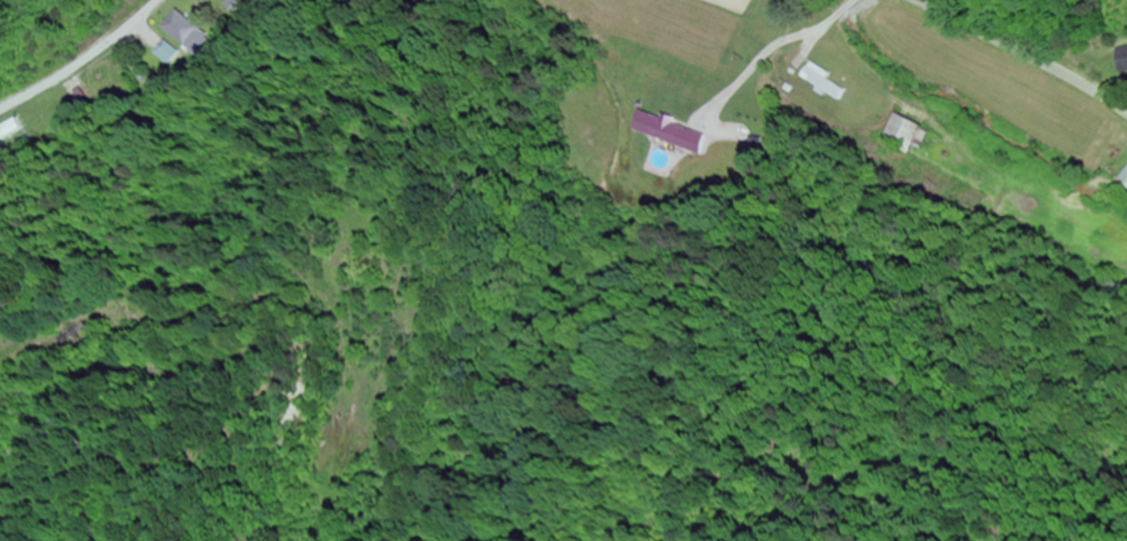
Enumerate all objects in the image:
road: (339, 9)
road: (168, 31)
building: (191, 33)
road: (1026, 53)
building: (173, 54)
building: (1123, 61)
building: (829, 83)
road: (1125, 106)
building: (673, 132)
building: (13, 133)
road: (1002, 344)
road: (898, 421)

